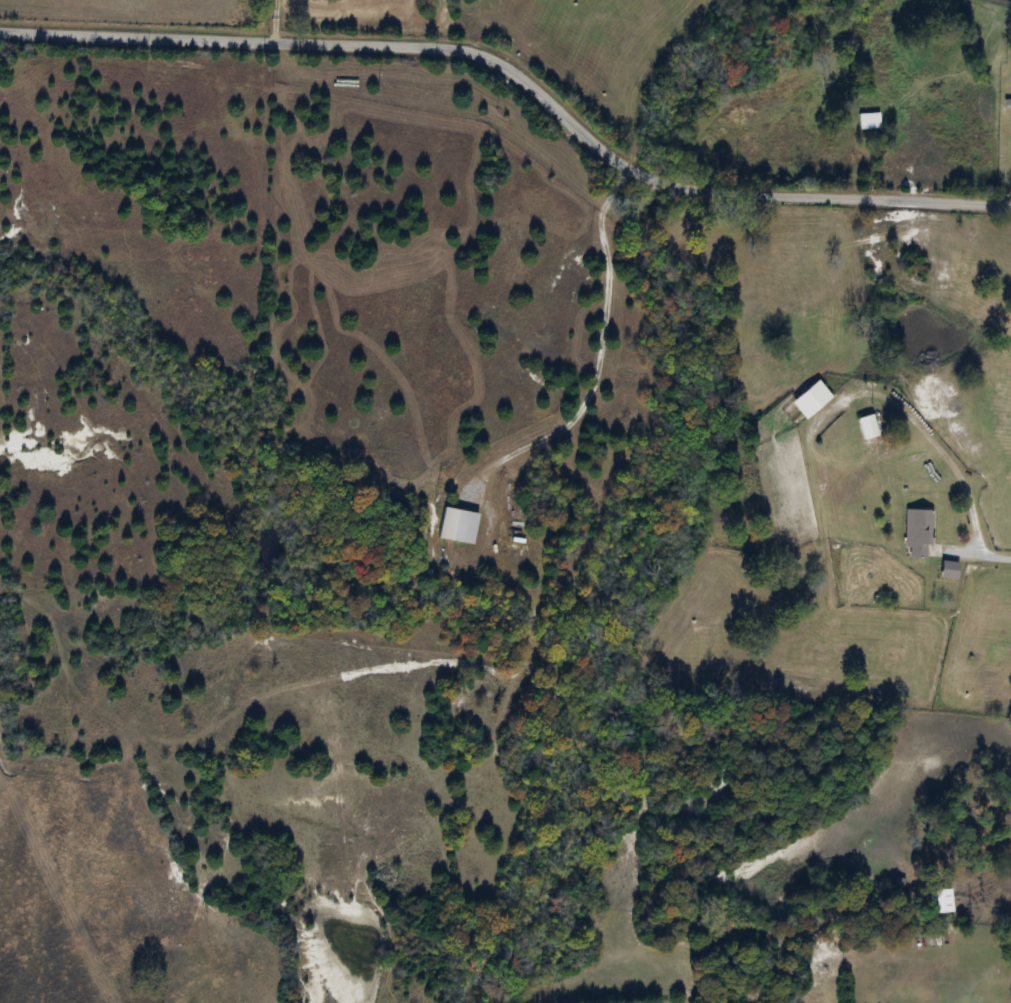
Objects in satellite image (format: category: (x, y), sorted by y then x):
road: (275, 22)
road: (519, 80)
building: (868, 121)
road: (604, 346)
building: (810, 400)
building: (867, 428)
road: (927, 430)
building: (870, 448)
building: (457, 526)
building: (917, 534)
road: (986, 553)
building: (948, 571)
building: (937, 904)

